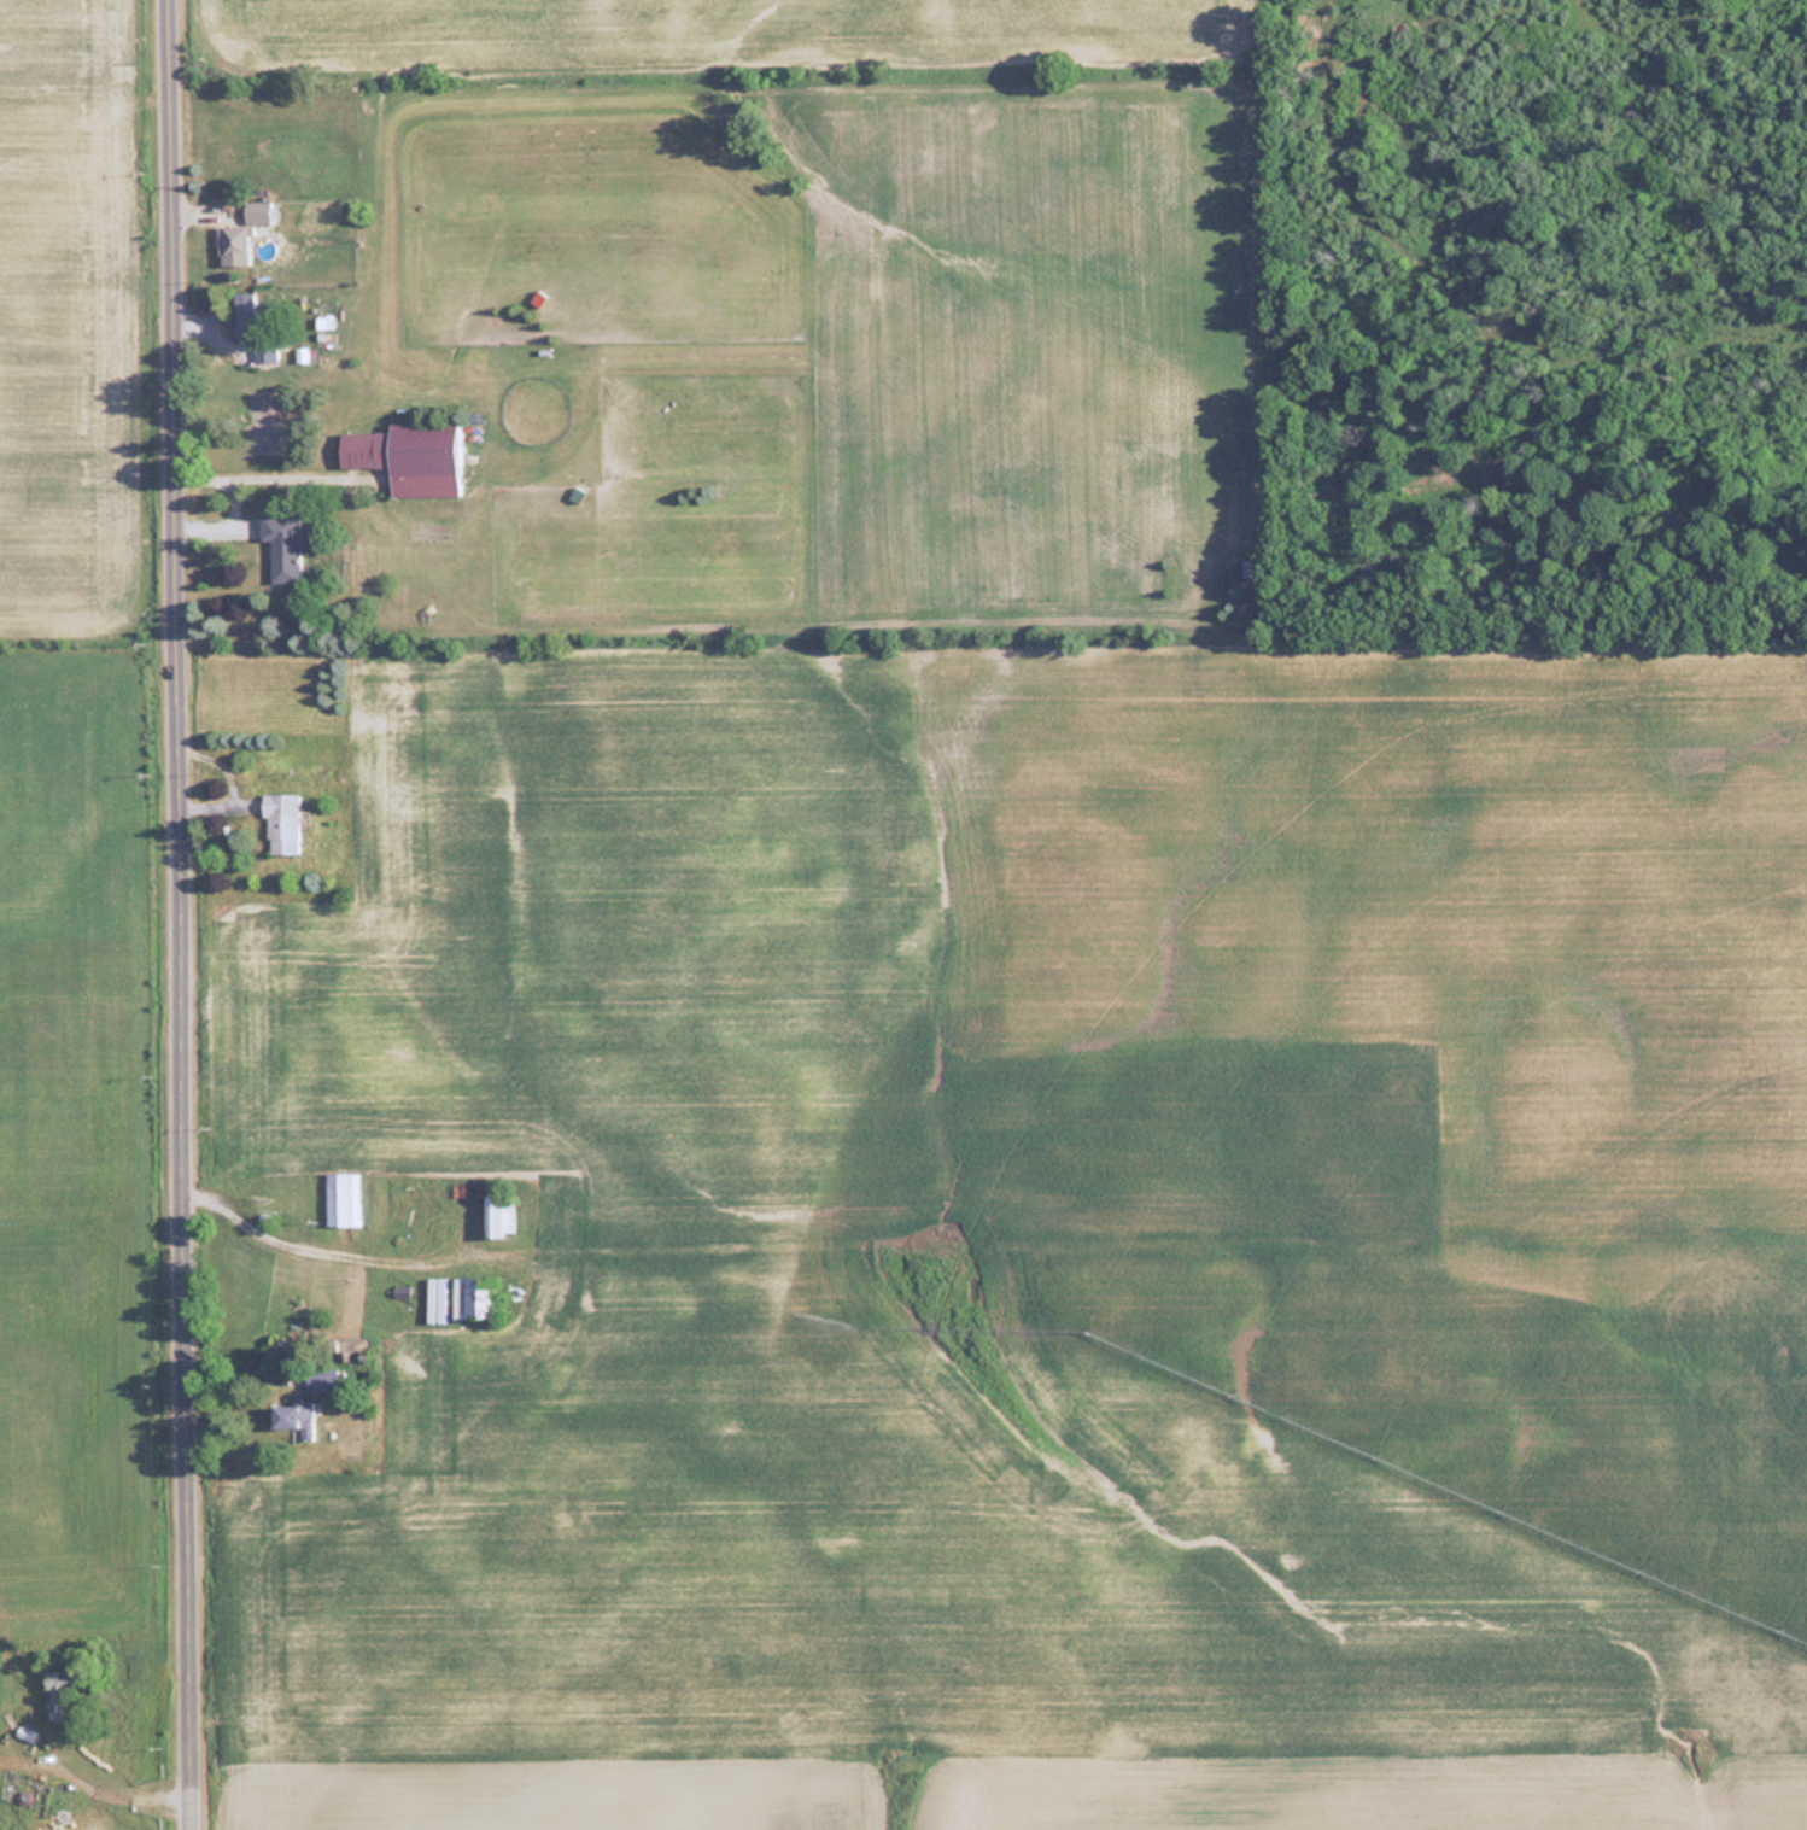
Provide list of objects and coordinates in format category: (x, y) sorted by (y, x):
building: (256, 211)
building: (230, 239)
building: (242, 314)
building: (409, 456)
building: (283, 544)
building: (280, 824)
road: (185, 914)
building: (343, 1198)
building: (498, 1215)
building: (460, 1296)
building: (318, 1379)
building: (293, 1417)
building: (58, 1694)

